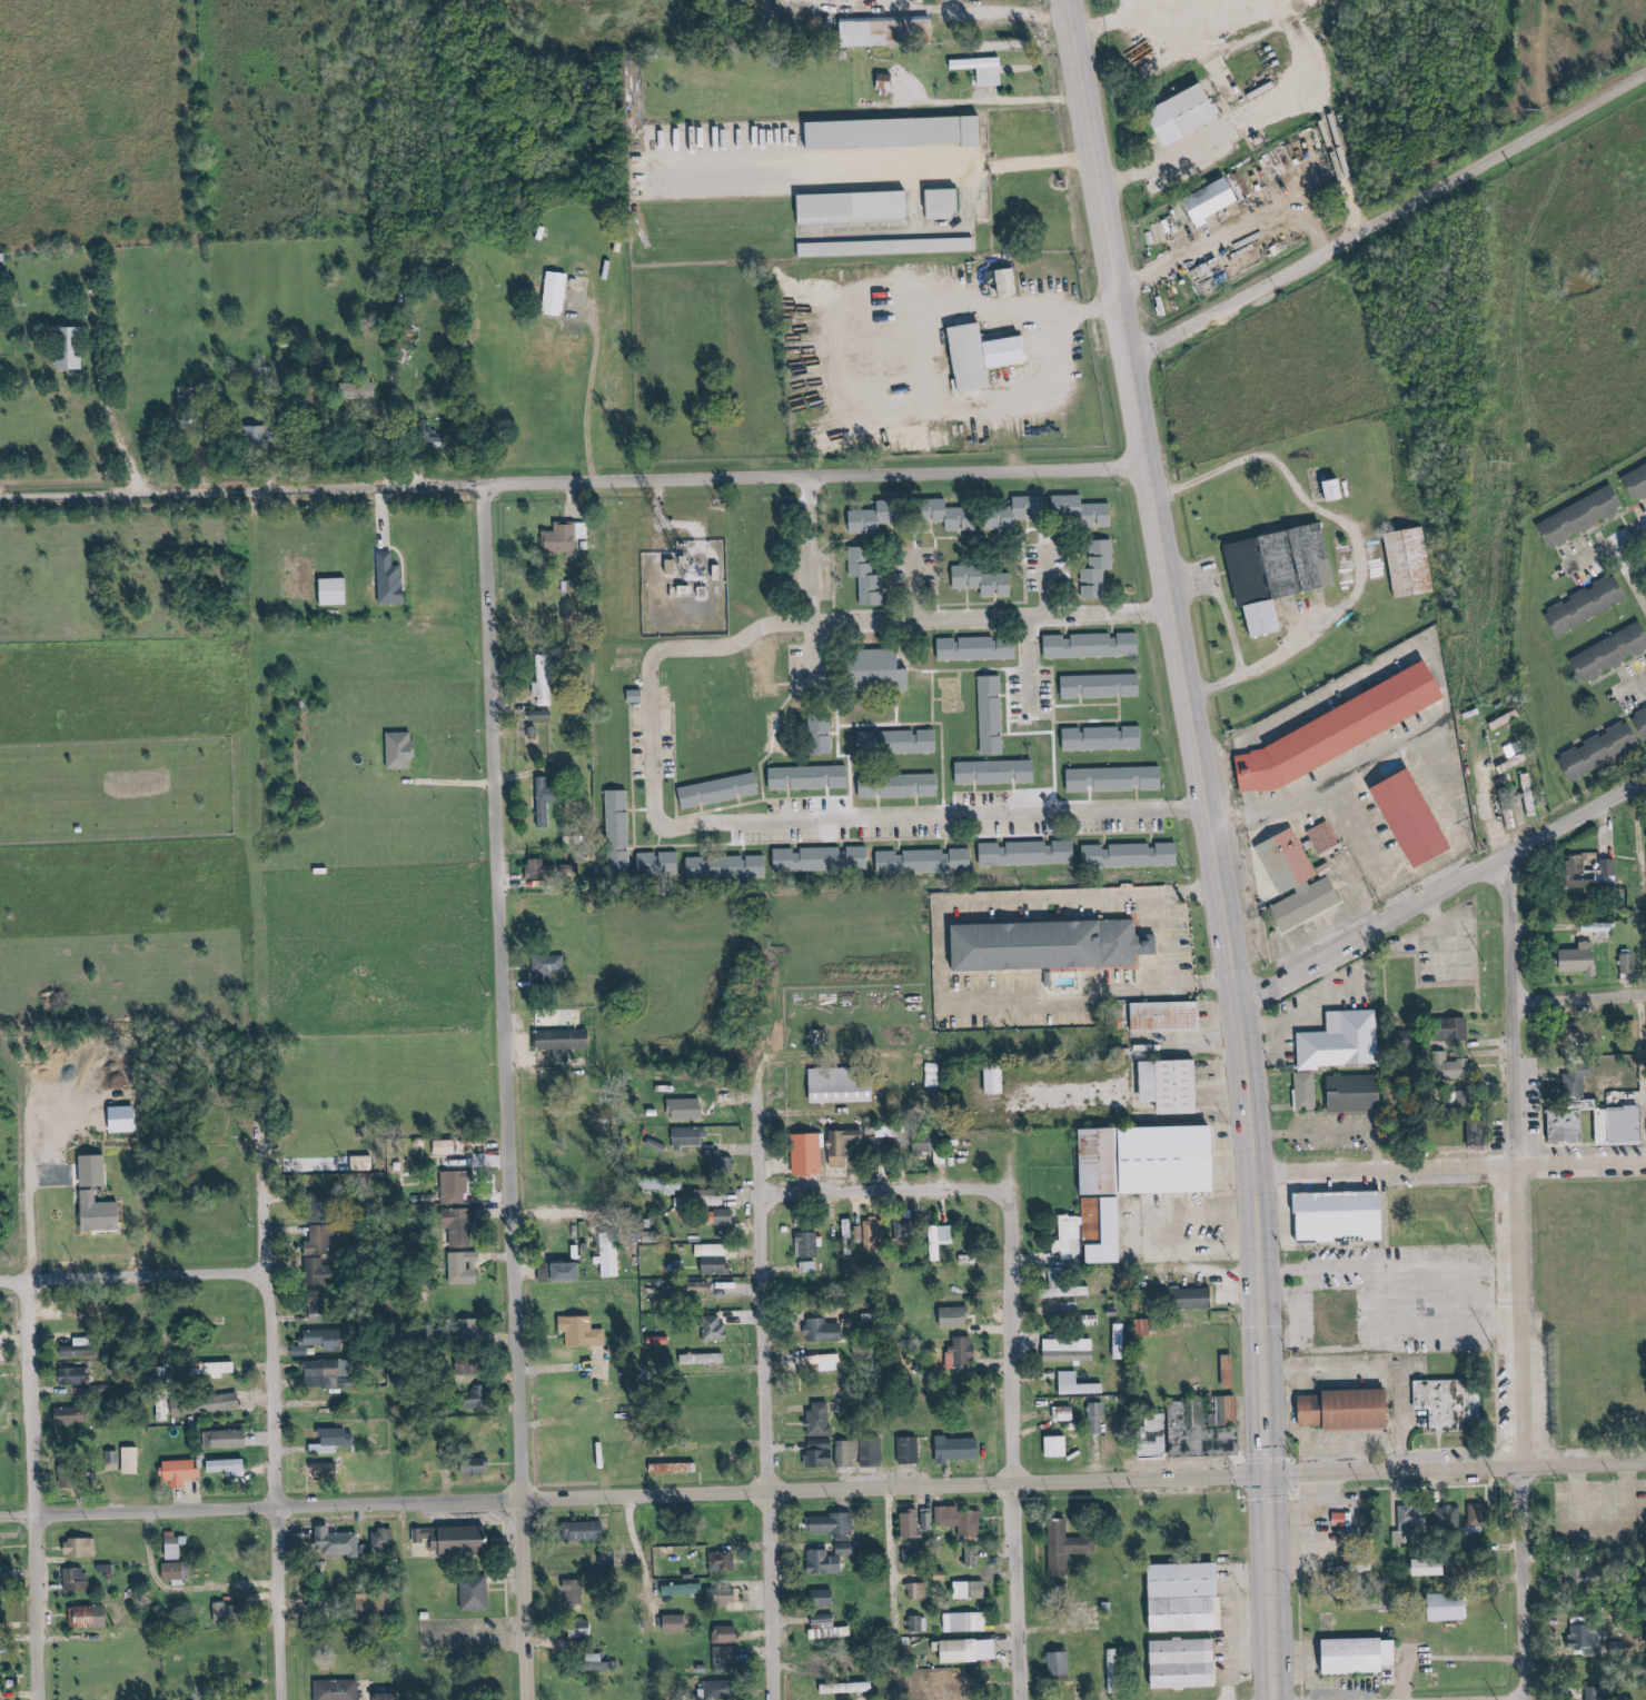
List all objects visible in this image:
road: (954, 6)
road: (981, 11)
building: (889, 31)
building: (1022, 58)
building: (983, 69)
building: (886, 84)
road: (986, 101)
building: (1203, 102)
power tower: (1528, 109)
building: (1176, 122)
building: (899, 132)
road: (876, 157)
building: (1221, 198)
building: (943, 203)
building: (855, 207)
road: (1385, 221)
road: (929, 228)
road: (1236, 237)
building: (888, 247)
building: (1010, 282)
building: (557, 294)
road: (1090, 305)
road: (966, 306)
building: (71, 348)
building: (993, 351)
building: (358, 391)
building: (256, 435)
road: (1017, 435)
power tower: (1501, 460)
road: (815, 474)
building: (1640, 481)
road: (244, 487)
building: (1338, 489)
building: (1087, 510)
building: (1017, 513)
building: (1589, 514)
building: (953, 515)
building: (875, 518)
building: (563, 537)
road: (820, 546)
road: (1365, 547)
road: (1614, 550)
building: (1407, 561)
road: (1635, 565)
building: (1100, 569)
building: (1287, 570)
building: (867, 577)
building: (391, 580)
building: (983, 580)
building: (336, 591)
road: (1229, 591)
building: (1594, 605)
building: (1092, 645)
building: (979, 648)
building: (1615, 650)
road: (1044, 658)
building: (880, 669)
building: (545, 679)
building: (1102, 686)
road: (1638, 688)
building: (637, 695)
power tower: (1481, 705)
building: (993, 715)
building: (1644, 718)
building: (1349, 726)
building: (822, 736)
building: (1103, 738)
building: (899, 742)
road: (655, 747)
building: (401, 749)
building: (1607, 749)
building: (998, 772)
building: (811, 777)
building: (1117, 778)
road: (1645, 783)
building: (871, 785)
building: (912, 785)
building: (721, 791)
building: (1529, 795)
building: (546, 799)
building: (1402, 819)
road: (1614, 822)
building: (619, 829)
building: (1333, 835)
road: (1208, 845)
power tower: (1479, 851)
building: (1029, 853)
building: (1132, 855)
road: (1629, 855)
building: (1298, 858)
building: (823, 859)
building: (926, 861)
building: (661, 864)
building: (728, 867)
building: (539, 869)
building: (1597, 869)
road: (1444, 892)
building: (1315, 905)
road: (1550, 926)
building: (1607, 928)
road: (1458, 935)
road: (1177, 940)
building: (1058, 943)
building: (1587, 960)
road: (954, 962)
building: (1627, 963)
building: (1638, 965)
building: (548, 967)
road: (500, 991)
road: (1583, 994)
building: (1159, 1018)
building: (1458, 1028)
building: (1585, 1033)
building: (1352, 1041)
building: (564, 1042)
road: (836, 1053)
building: (1460, 1068)
building: (934, 1075)
building: (1576, 1080)
building: (996, 1081)
building: (852, 1083)
building: (1173, 1085)
building: (1293, 1086)
building: (1339, 1088)
building: (1306, 1090)
building: (1468, 1097)
building: (686, 1110)
building: (1597, 1123)
building: (1326, 1127)
building: (1477, 1133)
building: (690, 1137)
building: (454, 1146)
building: (843, 1146)
building: (810, 1154)
building: (1151, 1160)
building: (718, 1162)
building: (364, 1163)
road: (1448, 1169)
building: (95, 1171)
building: (456, 1185)
building: (665, 1185)
road: (874, 1189)
building: (1444, 1207)
building: (101, 1213)
building: (725, 1216)
building: (1333, 1216)
building: (462, 1226)
building: (905, 1227)
building: (1102, 1229)
building: (871, 1233)
building: (1069, 1236)
building: (940, 1240)
building: (320, 1242)
building: (807, 1244)
building: (712, 1250)
building: (609, 1259)
building: (715, 1265)
building: (464, 1267)
road: (1388, 1269)
building: (319, 1271)
building: (563, 1272)
road: (1520, 1274)
road: (129, 1279)
building: (693, 1288)
building: (1070, 1292)
building: (1194, 1299)
road: (1454, 1303)
building: (320, 1305)
park: (1583, 1311)
building: (99, 1313)
building: (956, 1316)
building: (1332, 1318)
building: (1142, 1328)
building: (472, 1329)
building: (716, 1329)
building: (824, 1331)
building: (583, 1332)
road: (1454, 1333)
building: (321, 1341)
building: (1070, 1350)
building: (77, 1351)
building: (963, 1351)
building: (705, 1359)
building: (823, 1360)
building: (214, 1369)
road: (1328, 1370)
building: (324, 1373)
building: (76, 1376)
building: (0, 1383)
building: (1078, 1384)
road: (757, 1395)
building: (474, 1400)
building: (220, 1403)
building: (1452, 1404)
building: (1354, 1410)
building: (165, 1412)
building: (1064, 1413)
building: (73, 1415)
building: (1097, 1418)
building: (821, 1419)
building: (1193, 1429)
building: (227, 1440)
road: (264, 1440)
building: (335, 1441)
road: (1009, 1441)
building: (1059, 1447)
building: (959, 1449)
building: (909, 1450)
building: (872, 1452)
building: (833, 1453)
building: (131, 1460)
building: (229, 1467)
building: (476, 1467)
building: (673, 1468)
building: (327, 1471)
building: (182, 1472)
traffic signals: (1263, 1472)
road: (1079, 1480)
road: (26, 1491)
road: (255, 1509)
building: (1480, 1517)
building: (1449, 1518)
building: (1341, 1519)
building: (1352, 1519)
building: (1415, 1519)
building: (961, 1520)
building: (929, 1521)
building: (833, 1524)
building: (911, 1524)
building: (586, 1531)
building: (447, 1539)
building: (384, 1540)
building: (338, 1542)
building: (82, 1548)
building: (1065, 1548)
building: (176, 1549)
building: (609, 1558)
building: (972, 1558)
building: (830, 1560)
building: (723, 1561)
building: (1431, 1567)
building: (177, 1572)
building: (1576, 1572)
building: (77, 1579)
building: (684, 1590)
building: (970, 1590)
building: (918, 1591)
building: (578, 1592)
road: (898, 1592)
building: (476, 1594)
building: (723, 1597)
building: (823, 1598)
building: (1189, 1598)
road: (514, 1600)
building: (1451, 1607)
building: (230, 1611)
building: (90, 1617)
building: (965, 1622)
building: (676, 1623)
building: (918, 1623)
building: (2, 1626)
building: (829, 1628)
building: (582, 1630)
building: (727, 1634)
building: (1584, 1638)
building: (970, 1650)
building: (1362, 1656)
building: (725, 1660)
building: (1061, 1663)
building: (1187, 1664)
building: (1113, 1671)
building: (849, 1688)
building: (337, 1690)
building: (720, 1690)
building: (1595, 1693)
building: (388, 1697)

